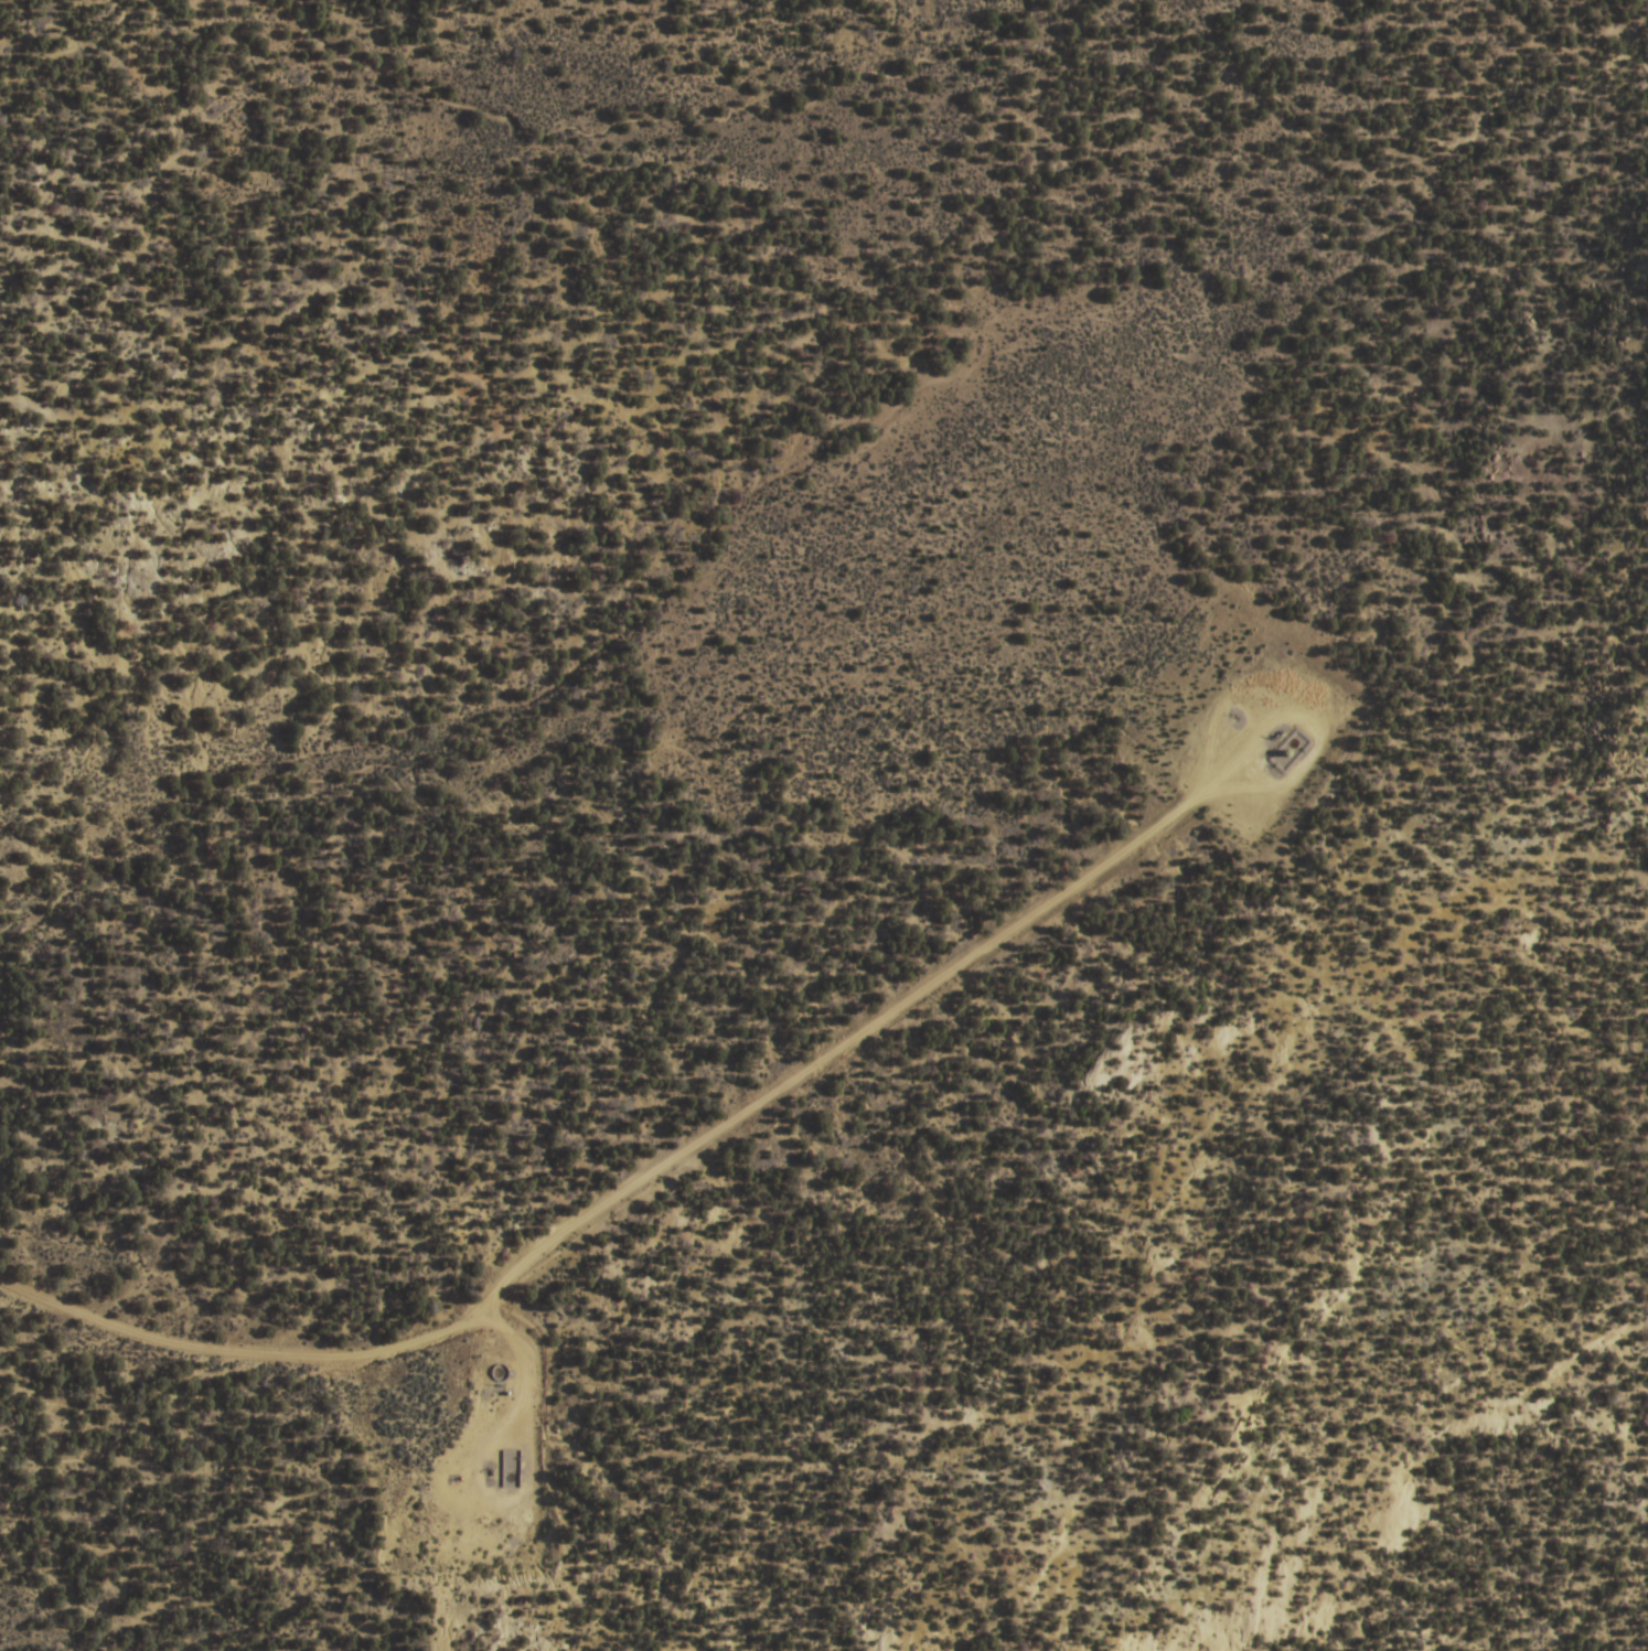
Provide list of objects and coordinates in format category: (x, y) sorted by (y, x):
road: (217, 1349)

